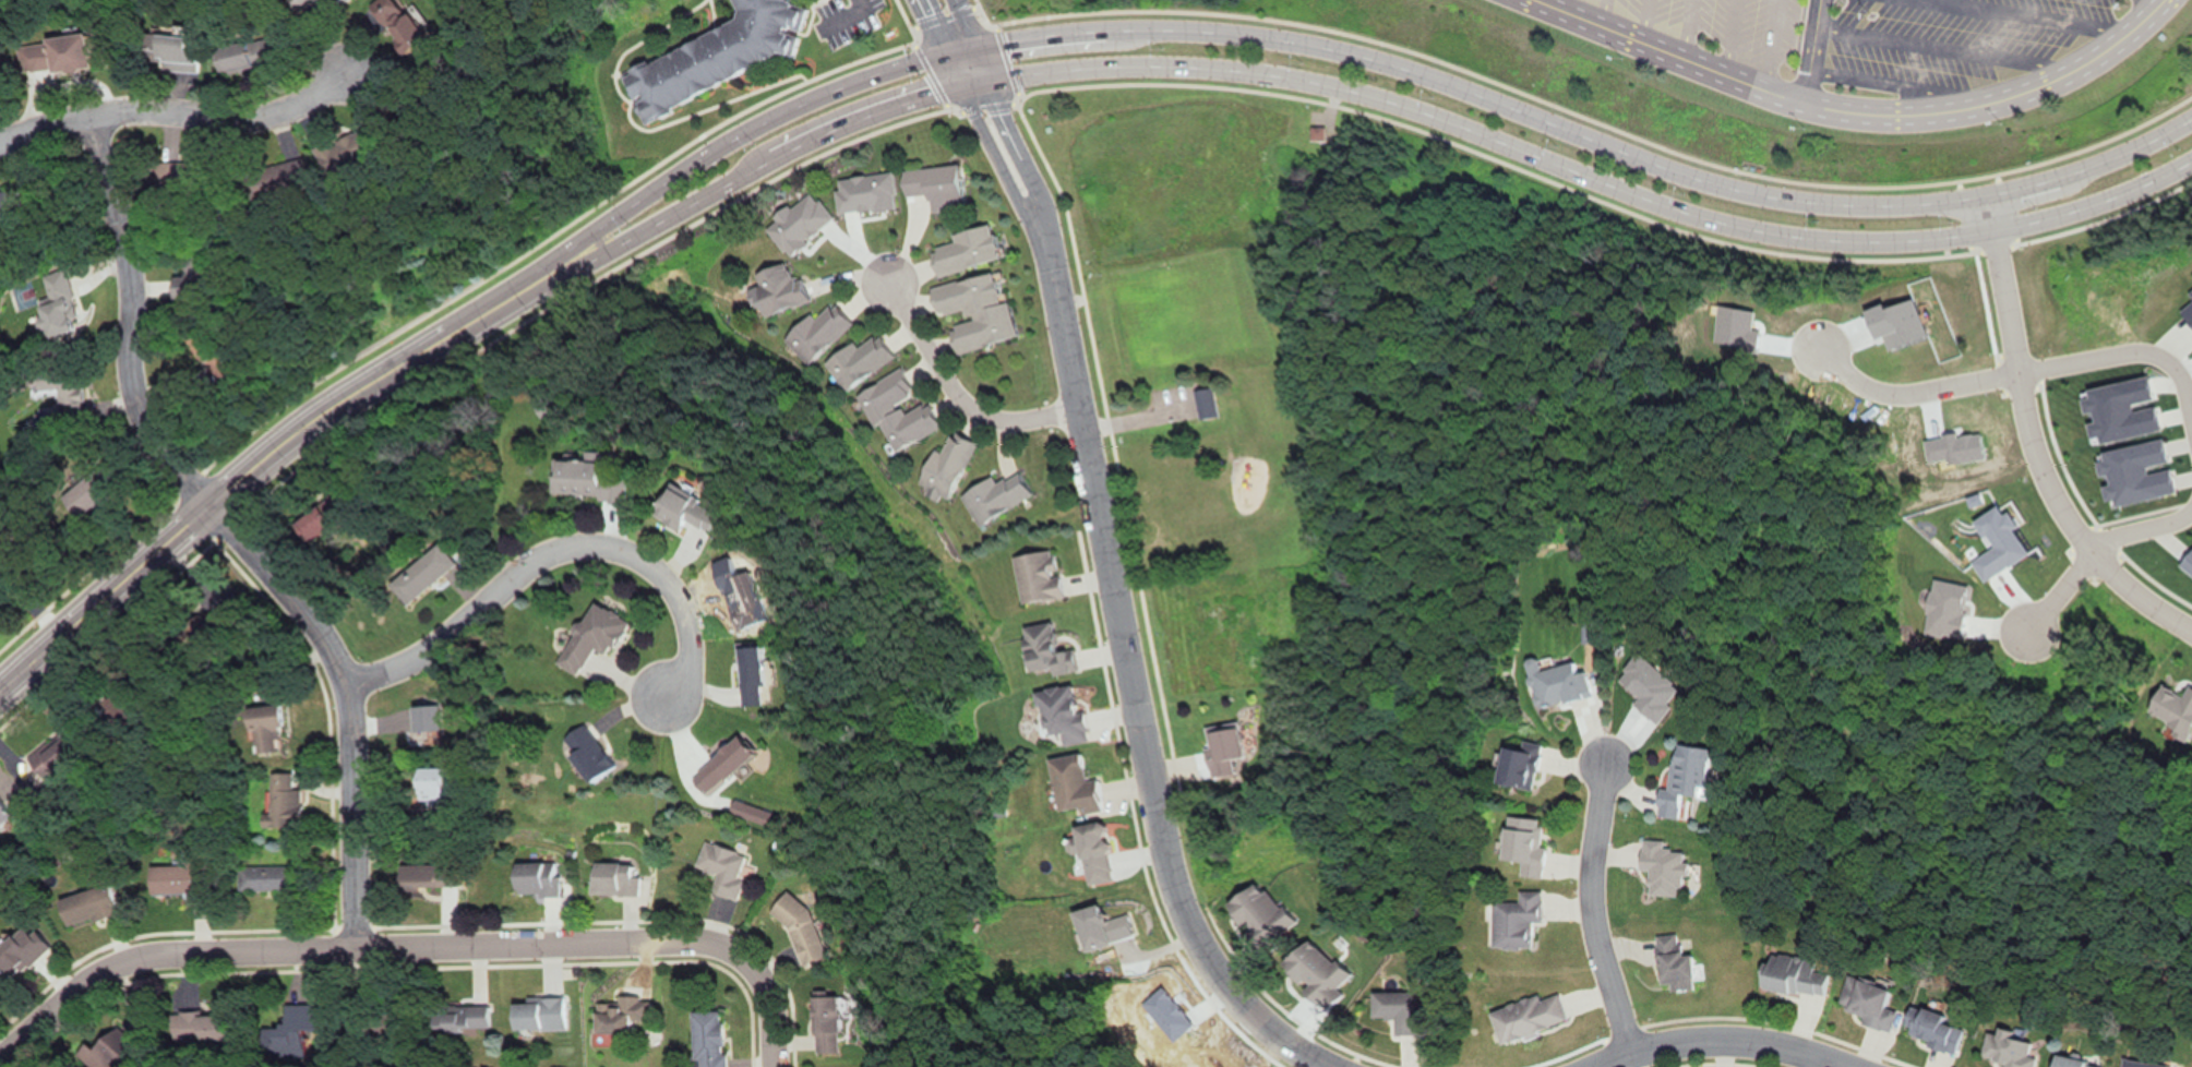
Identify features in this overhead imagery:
road: (864, 0)
road: (1554, 3)
building: (331, 5)
road: (1598, 11)
road: (2043, 13)
road: (1643, 20)
building: (399, 24)
parking lot: (1725, 26)
road: (1684, 27)
road: (1726, 36)
road: (967, 38)
road: (1273, 39)
parking lot: (1947, 40)
road: (935, 41)
road: (1765, 43)
road: (1947, 44)
traffic signals: (971, 47)
road: (1809, 49)
road: (1668, 51)
traffic signals: (942, 53)
building: (56, 55)
building: (173, 55)
building: (715, 55)
building: (241, 58)
road: (1174, 67)
traffic signals: (985, 76)
road: (1878, 80)
traffic signals: (957, 83)
road: (1991, 97)
road: (178, 112)
road: (1030, 130)
building: (934, 183)
road: (1040, 192)
road: (1016, 197)
building: (7, 203)
road: (2093, 203)
building: (962, 248)
building: (777, 287)
building: (55, 304)
building: (972, 310)
building: (817, 331)
road: (2125, 352)
building: (858, 359)
park: (1350, 365)
building: (68, 392)
road: (955, 393)
road: (1912, 393)
building: (1205, 404)
building: (895, 410)
road: (2032, 443)
building: (944, 470)
building: (584, 480)
building: (83, 493)
building: (992, 496)
building: (682, 512)
road: (194, 516)
building: (309, 524)
road: (2141, 528)
road: (229, 531)
road: (550, 553)
road: (1135, 562)
building: (2187, 562)
building: (1034, 575)
building: (423, 576)
road: (2060, 590)
building: (586, 636)
building: (1045, 648)
building: (750, 674)
building: (1556, 680)
building: (1059, 712)
road: (1139, 724)
building: (264, 732)
building: (1222, 745)
building: (586, 753)
building: (721, 763)
building: (1516, 766)
building: (1681, 778)
building: (1070, 782)
building: (429, 791)
building: (280, 798)
building: (3, 813)
building: (1523, 842)
building: (1092, 851)
building: (1660, 866)
building: (721, 867)
building: (426, 875)
building: (179, 876)
building: (271, 878)
building: (611, 878)
building: (537, 880)
building: (87, 910)
road: (1589, 910)
building: (1513, 919)
building: (1100, 925)
building: (798, 928)
building: (1271, 932)
road: (415, 945)
building: (20, 950)
building: (1673, 961)
building: (1314, 971)
building: (1789, 974)
building: (1865, 1002)
building: (1396, 1011)
building: (536, 1014)
building: (620, 1014)
building: (462, 1015)
building: (1526, 1016)
building: (824, 1023)
building: (292, 1024)
building: (1933, 1030)
building: (706, 1038)
road: (1720, 1040)
building: (2005, 1051)
building: (2070, 1063)
building: (2137, 1064)

